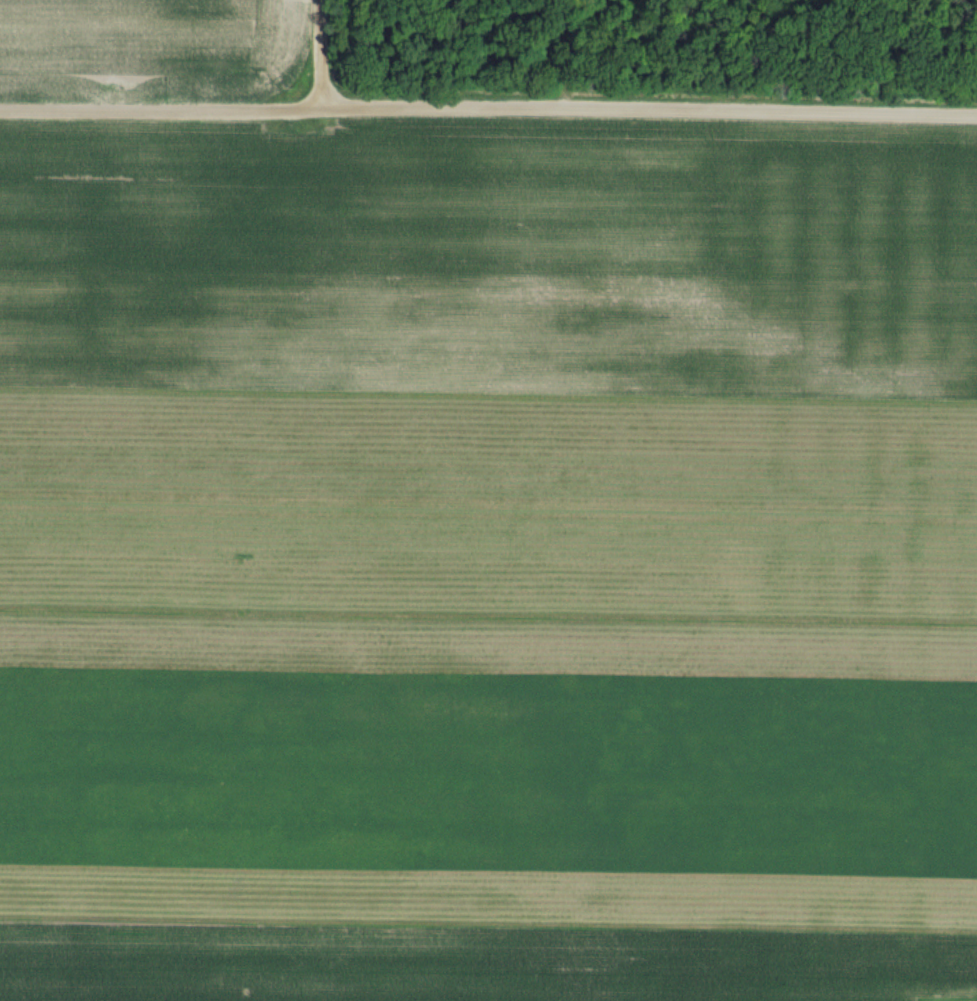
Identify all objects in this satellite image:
road: (317, 54)
road: (488, 107)

